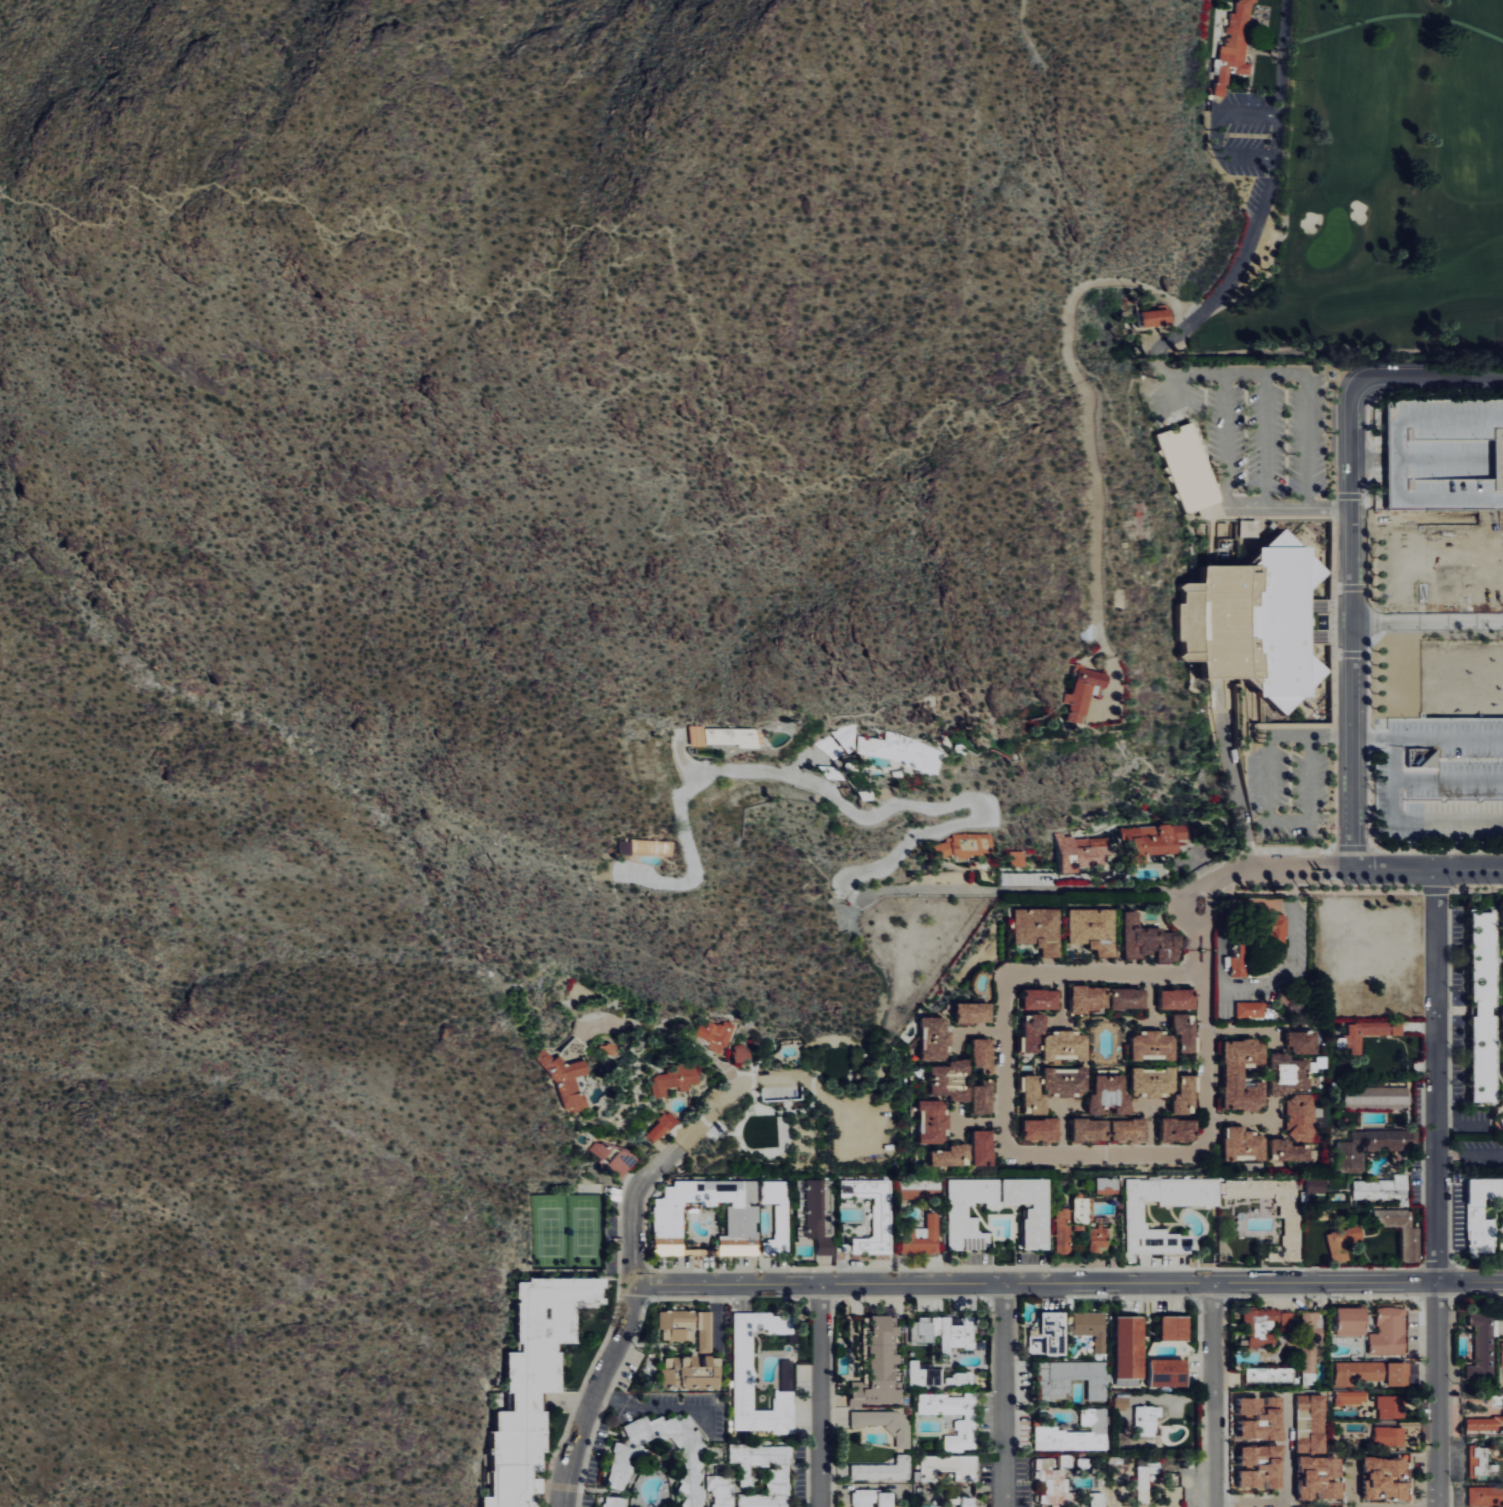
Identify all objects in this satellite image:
building: (1234, 50)
road: (1283, 57)
road: (1225, 113)
parking lot: (1252, 147)
park: (1361, 181)
road: (361, 232)
road: (576, 240)
road: (668, 266)
road: (1219, 293)
building: (1157, 317)
road: (1289, 373)
road: (1214, 375)
road: (1421, 376)
road: (1089, 434)
parking lot: (1253, 435)
road: (1264, 440)
road: (1306, 445)
building: (1445, 453)
parking garage: (1445, 453)
road: (1368, 455)
road: (1225, 458)
road: (737, 461)
building: (1186, 469)
road: (632, 472)
road: (1307, 507)
road: (1410, 519)
building: (1249, 528)
building: (1250, 621)
road: (1426, 625)
road: (1349, 632)
building: (1084, 693)
building: (735, 736)
road: (1426, 738)
building: (900, 750)
building: (1425, 758)
road: (1235, 776)
parking lot: (1439, 782)
road: (871, 815)
building: (1153, 840)
building: (966, 845)
building: (641, 847)
building: (1074, 853)
building: (1018, 858)
road: (1427, 869)
road: (1108, 893)
building: (1273, 919)
building: (1039, 929)
building: (1095, 929)
building: (1150, 940)
building: (1240, 959)
road: (884, 972)
road: (1102, 972)
building: (1129, 998)
building: (1042, 999)
building: (1178, 999)
building: (1090, 1000)
building: (1484, 1007)
building: (1252, 1010)
building: (974, 1013)
road: (1203, 1024)
road: (976, 1030)
building: (1185, 1031)
building: (1034, 1032)
road: (1240, 1032)
building: (1370, 1032)
building: (716, 1034)
road: (667, 1036)
building: (936, 1039)
building: (1303, 1042)
building: (1066, 1046)
building: (1154, 1046)
building: (742, 1054)
building: (984, 1055)
road: (1003, 1062)
building: (1290, 1073)
building: (1243, 1075)
building: (678, 1078)
building: (951, 1081)
building: (1066, 1081)
building: (1154, 1081)
building: (569, 1083)
building: (1110, 1095)
building: (1034, 1096)
building: (1186, 1096)
building: (1377, 1097)
building: (982, 1098)
building: (1301, 1117)
building: (1502, 1117)
road: (1239, 1119)
building: (933, 1122)
road: (976, 1123)
building: (663, 1126)
building: (1041, 1129)
building: (1091, 1130)
building: (1129, 1130)
building: (1179, 1130)
building: (1243, 1144)
building: (1372, 1145)
building: (983, 1148)
building: (1291, 1151)
road: (1105, 1153)
building: (612, 1156)
building: (952, 1156)
road: (1470, 1156)
parking lot: (1477, 1158)
building: (1106, 1185)
building: (1316, 1185)
road: (1437, 1188)
building: (1381, 1189)
building: (1289, 1210)
building: (1037, 1213)
building: (1479, 1213)
building: (819, 1214)
building: (1081, 1214)
building: (777, 1215)
building: (882, 1217)
building: (1136, 1217)
building: (743, 1220)
building: (1063, 1231)
building: (1401, 1232)
building: (923, 1237)
building: (1100, 1238)
building: (1343, 1243)
road: (632, 1246)
road: (1068, 1283)
building: (1287, 1320)
building: (1352, 1321)
building: (677, 1325)
building: (1261, 1326)
building: (1092, 1327)
building: (1175, 1327)
building: (705, 1331)
building: (945, 1332)
building: (1054, 1332)
building: (1389, 1332)
building: (1311, 1341)
building: (1033, 1343)
building: (1482, 1343)
building: (880, 1364)
building: (1502, 1368)
building: (691, 1372)
building: (1168, 1372)
building: (1361, 1372)
building: (1398, 1373)
building: (1274, 1375)
building: (741, 1376)
building: (935, 1376)
building: (1072, 1378)
building: (535, 1383)
road: (820, 1395)
road: (1004, 1395)
road: (1215, 1395)
building: (1351, 1397)
building: (1121, 1403)
road: (652, 1404)
building: (1392, 1406)
building: (1259, 1416)
building: (1147, 1419)
building: (887, 1423)
building: (1485, 1423)
building: (965, 1426)
road: (712, 1429)
building: (1076, 1433)
building: (1390, 1435)
building: (1065, 1460)
building: (690, 1461)
building: (1480, 1461)
building: (949, 1466)
building: (1260, 1466)
building: (883, 1469)
building: (778, 1477)
building: (1385, 1478)
building: (1146, 1480)
building: (1051, 1481)
road: (1350, 1481)
building: (721, 1490)
building: (1486, 1496)
building: (873, 1498)
road: (1252, 1500)
building: (615, 1501)
building: (967, 1501)

